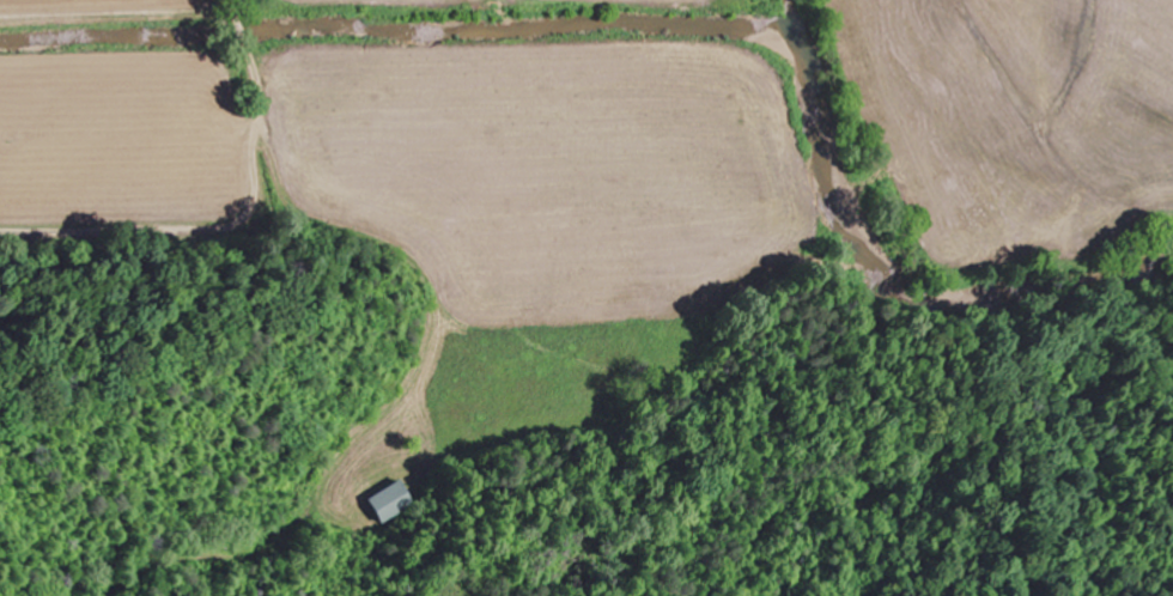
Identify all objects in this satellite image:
building: (391, 500)

